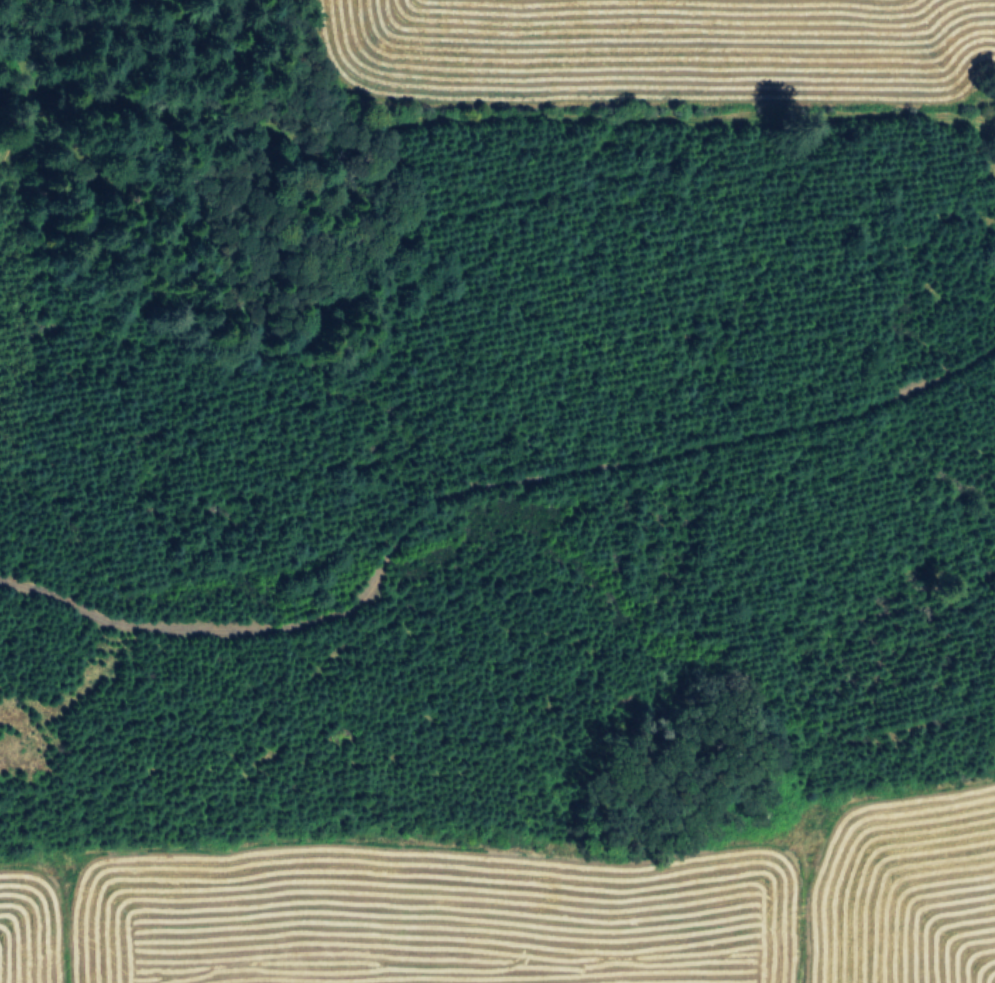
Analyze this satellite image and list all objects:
crop: (538, 905)

